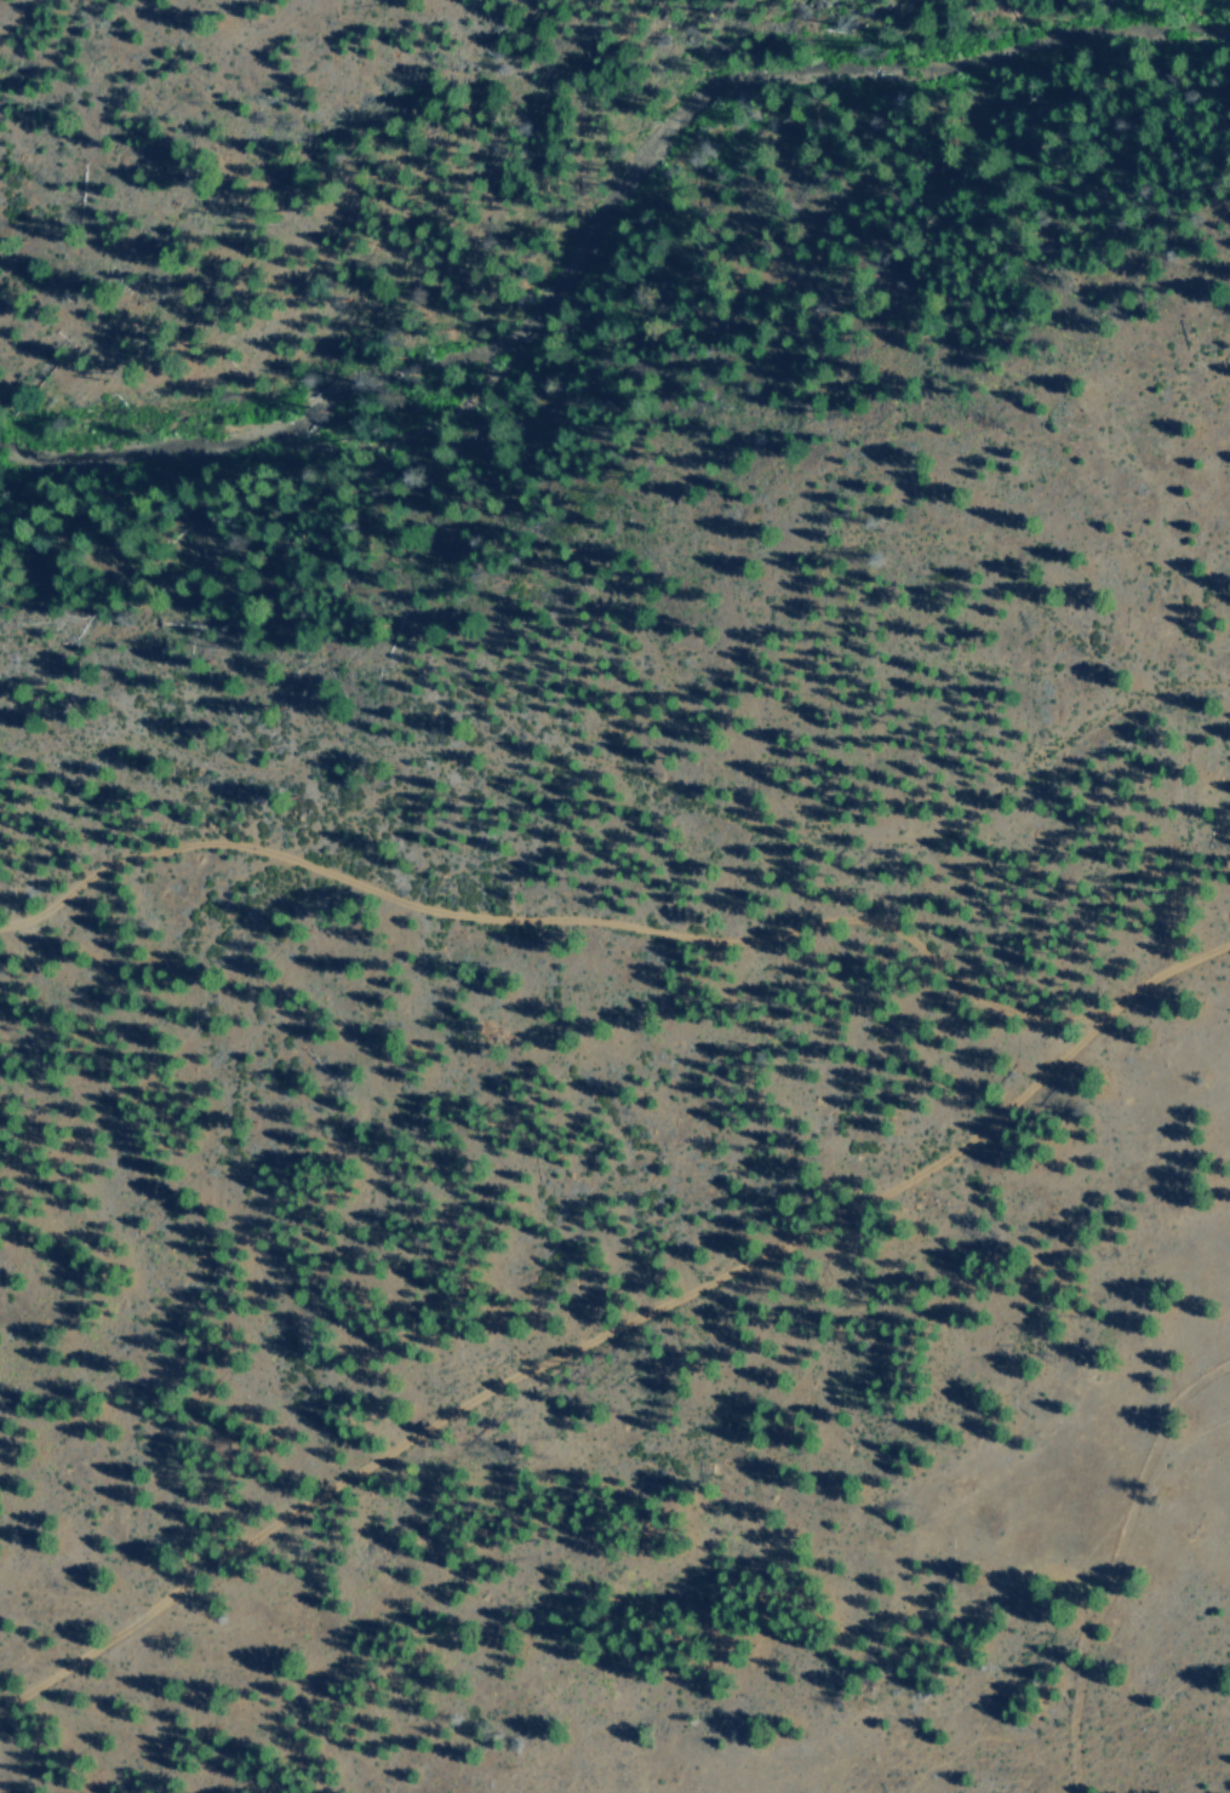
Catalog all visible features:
road: (1190, 999)
road: (565, 1333)

